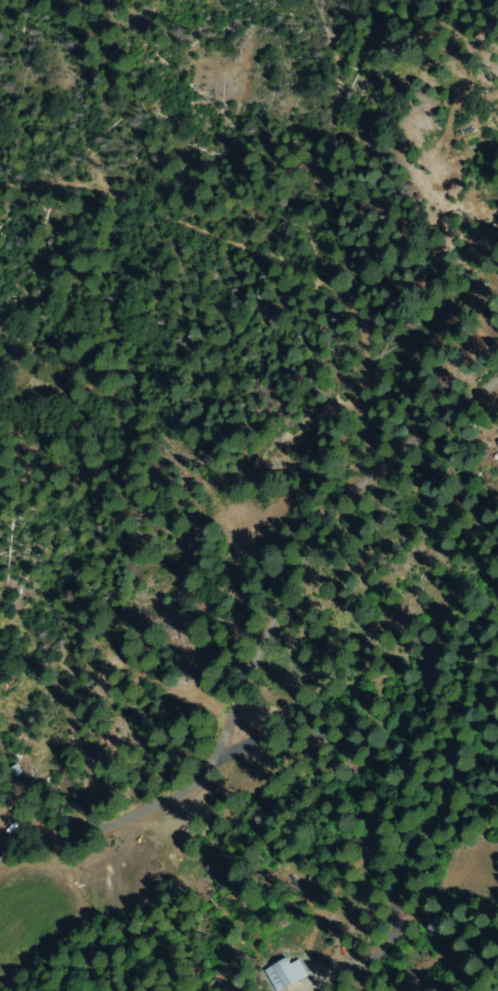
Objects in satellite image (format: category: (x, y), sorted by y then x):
building: (497, 442)
road: (262, 653)
building: (287, 974)

